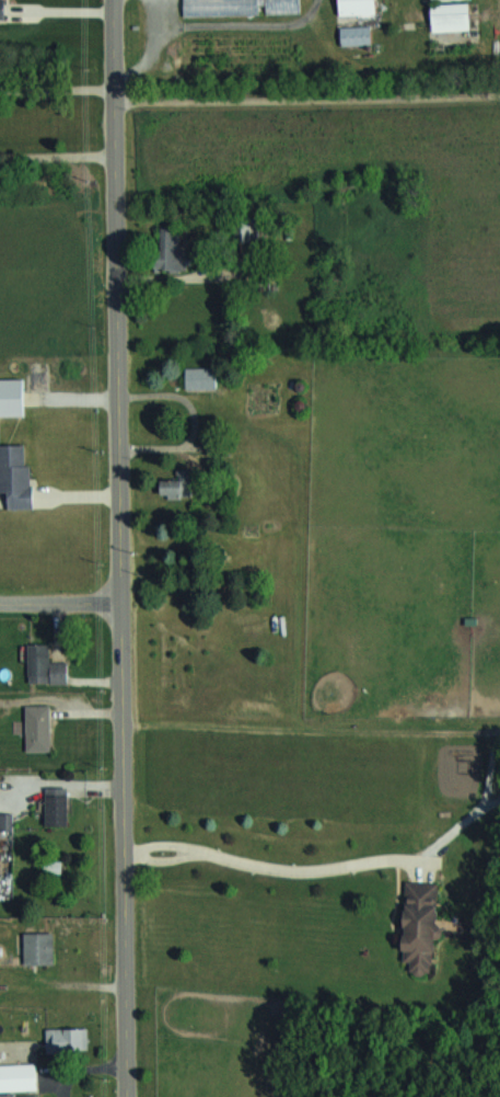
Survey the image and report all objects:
building: (242, 7)
building: (360, 7)
building: (3, 9)
building: (453, 16)
building: (358, 35)
road: (57, 85)
road: (307, 99)
road: (57, 152)
building: (359, 186)
building: (247, 227)
building: (172, 250)
building: (202, 377)
building: (265, 396)
building: (13, 397)
building: (16, 475)
building: (181, 483)
road: (120, 548)
road: (60, 602)
building: (47, 665)
building: (39, 727)
building: (59, 808)
building: (54, 866)
road: (268, 866)
building: (423, 925)
building: (40, 947)
building: (68, 1038)
road: (82, 1066)
building: (19, 1079)

